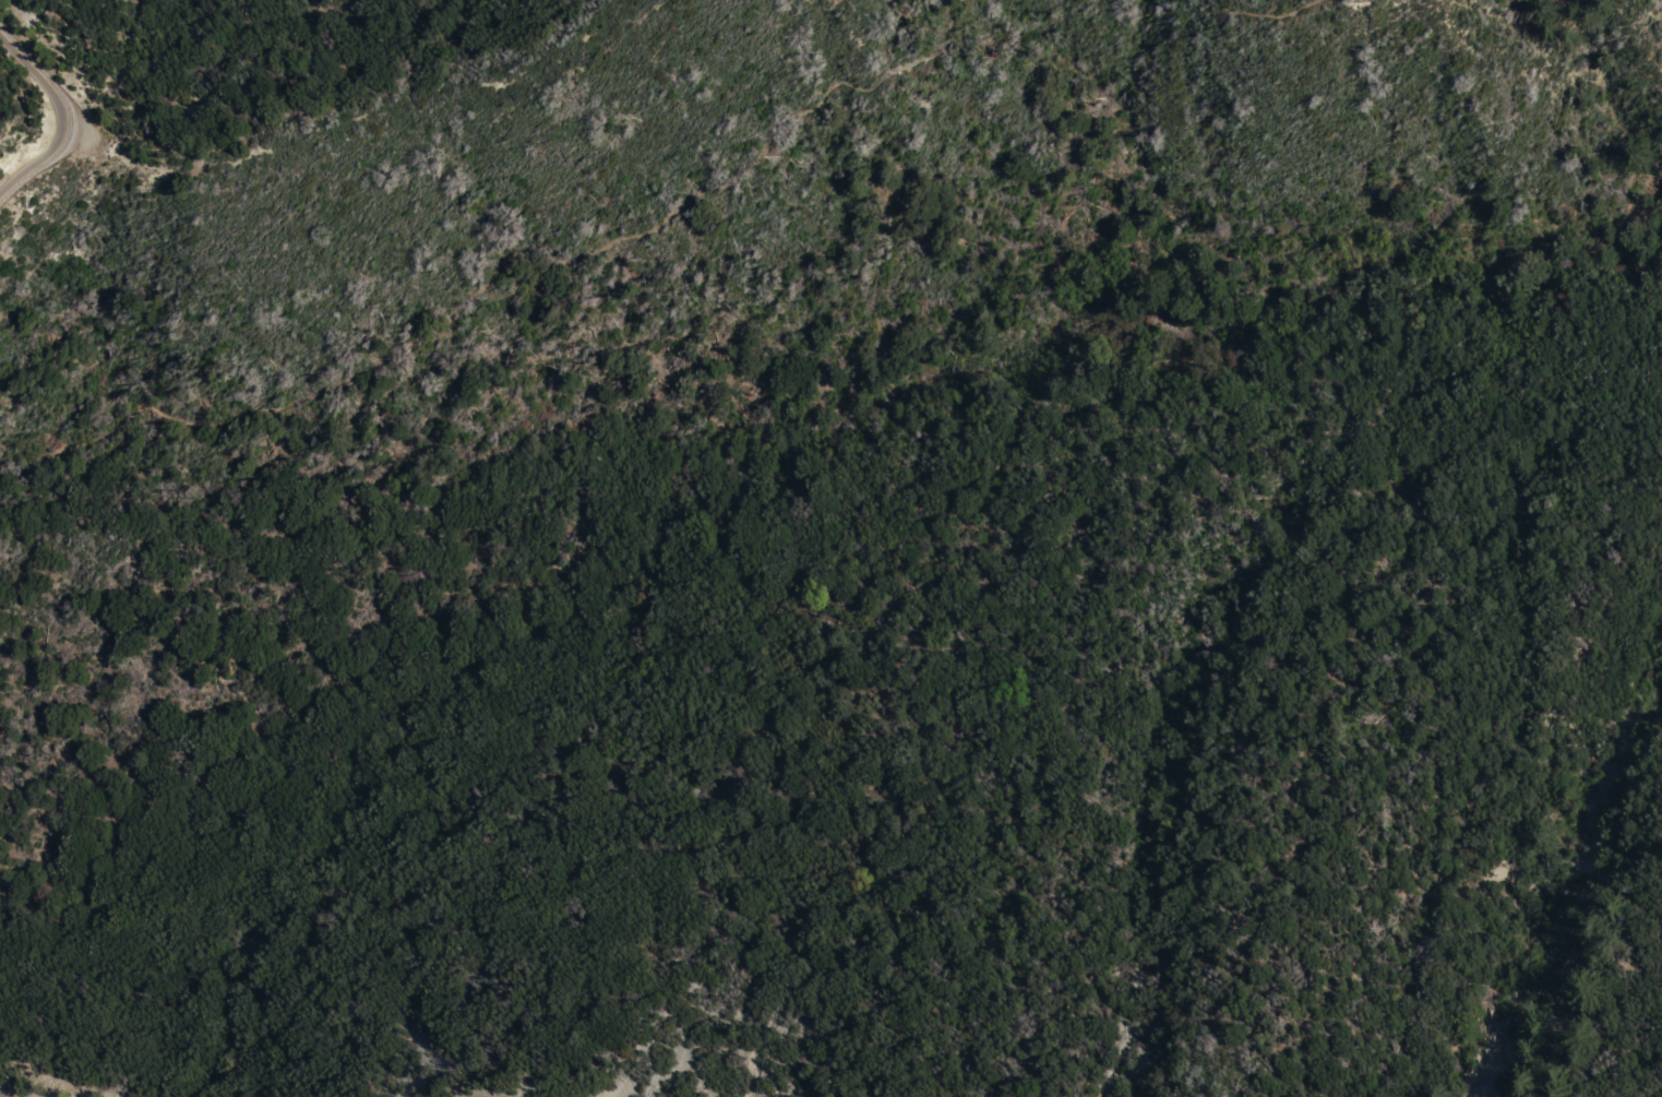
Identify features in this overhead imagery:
road: (1348, 2)
road: (1255, 11)
road: (52, 115)
road: (464, 312)
road: (5, 1095)

